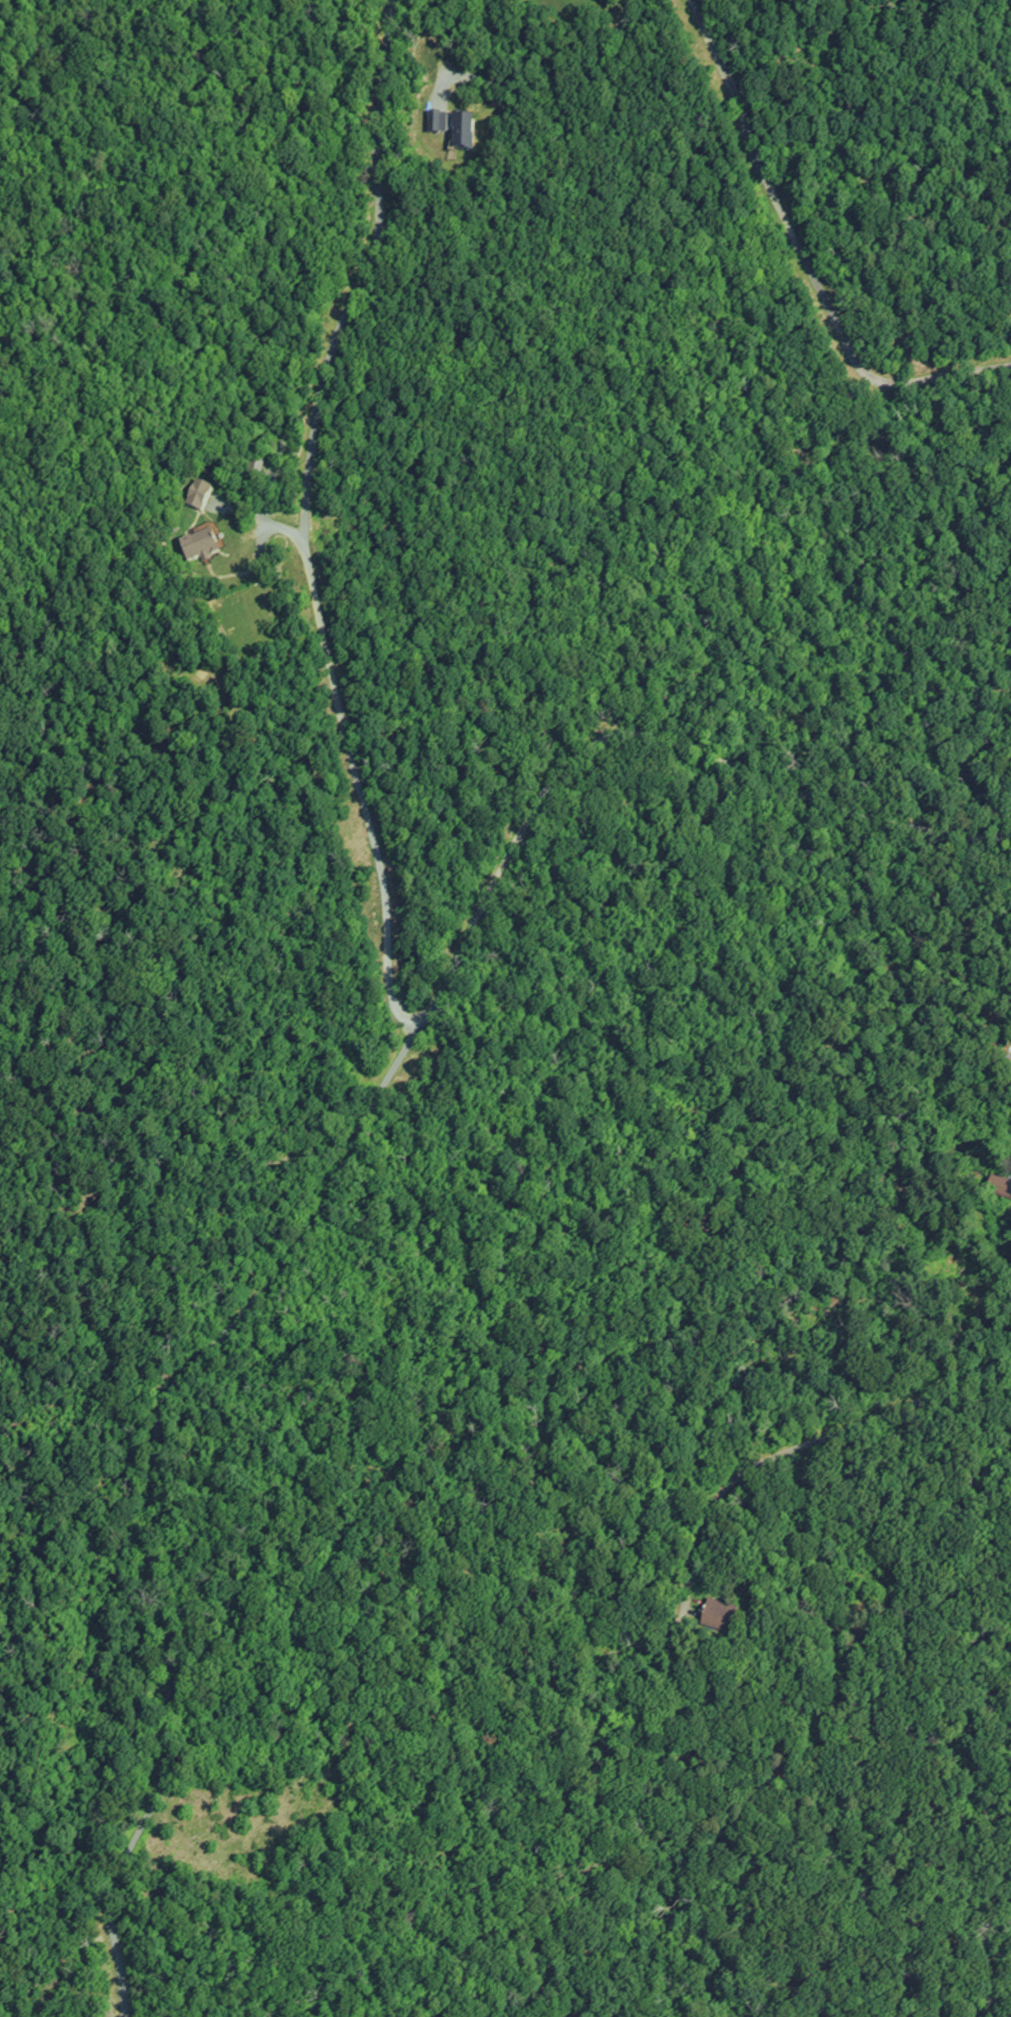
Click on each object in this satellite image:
road: (809, 255)
road: (362, 271)
road: (266, 493)
building: (206, 494)
building: (209, 544)
road: (352, 738)
road: (345, 1173)
road: (813, 1438)

